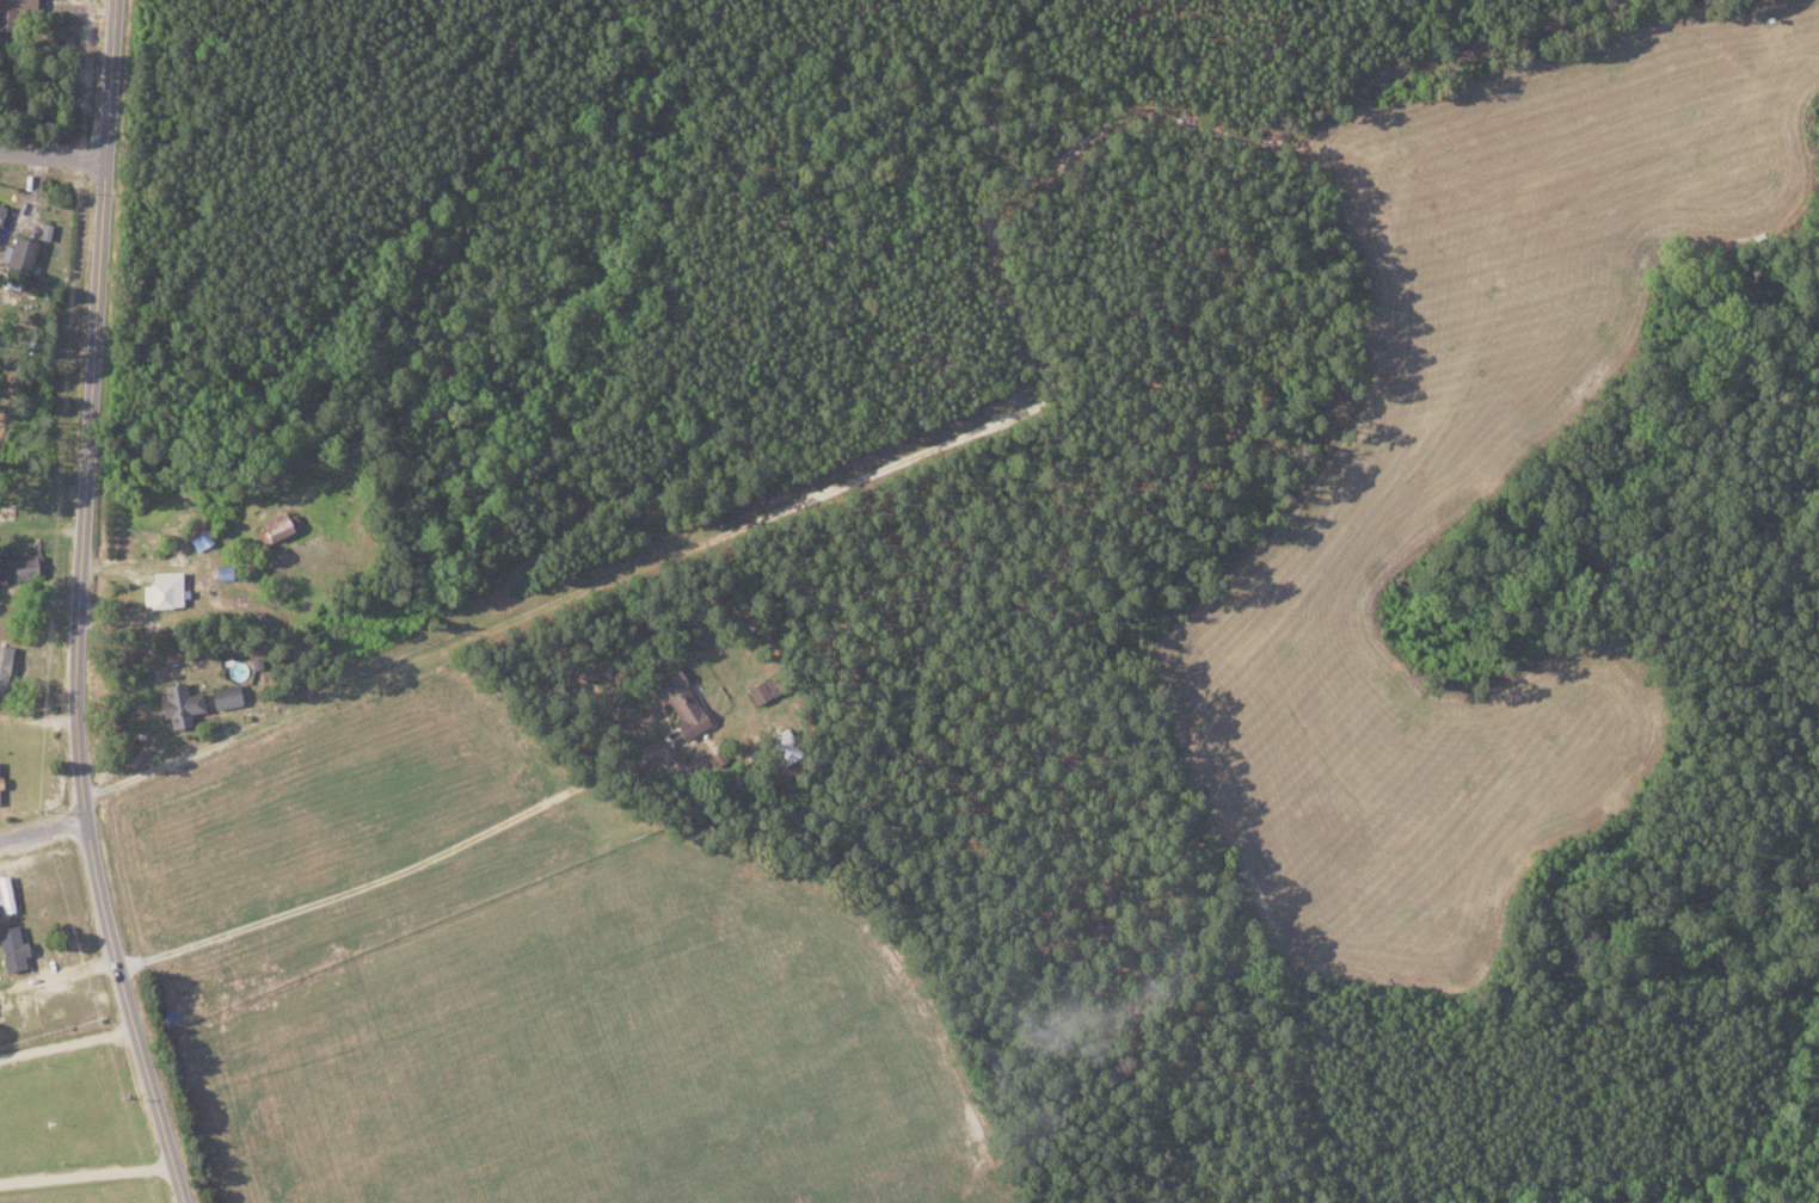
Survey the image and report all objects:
building: (14, 13)
road: (53, 156)
building: (0, 208)
building: (19, 253)
building: (275, 525)
building: (20, 566)
building: (222, 572)
building: (161, 590)
road: (80, 607)
building: (4, 665)
building: (758, 691)
building: (223, 696)
building: (680, 703)
building: (178, 704)
road: (43, 829)
building: (11, 948)

